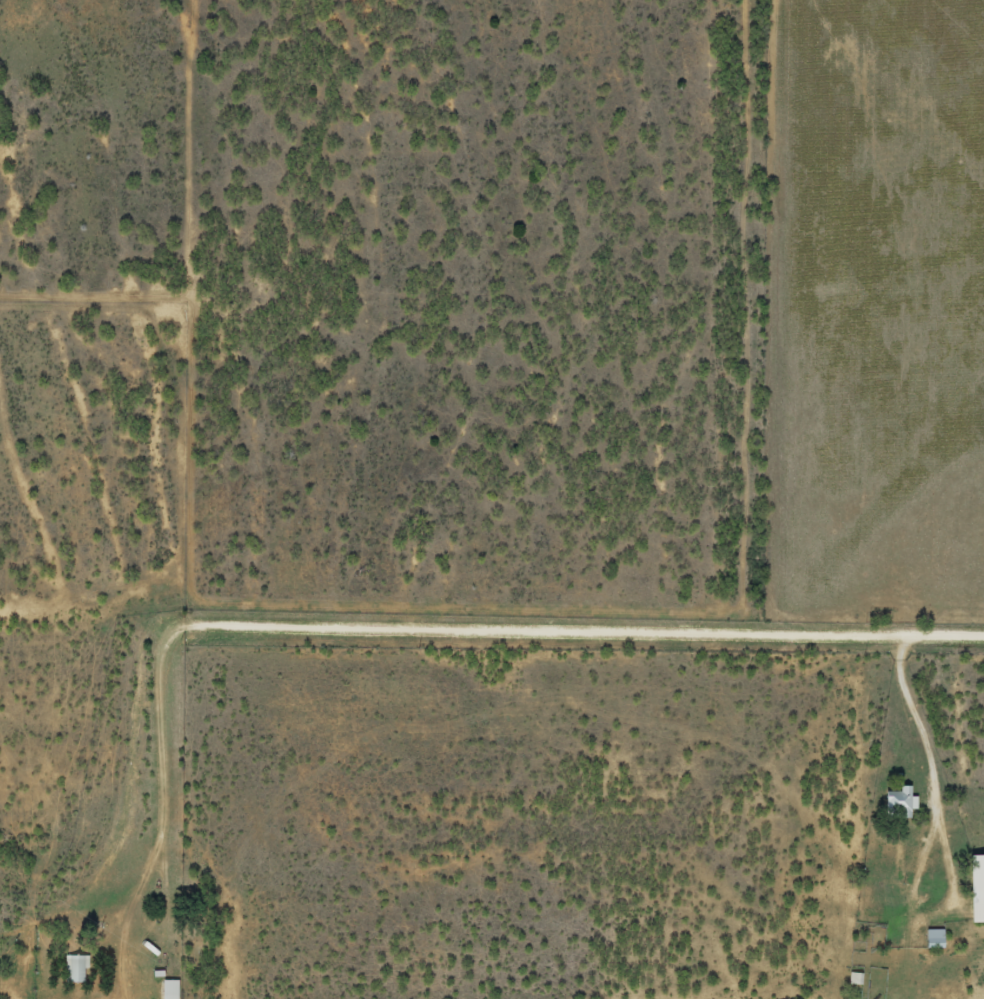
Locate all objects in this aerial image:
road: (414, 640)
building: (893, 802)
building: (973, 888)
building: (928, 934)
building: (69, 969)
building: (164, 988)

